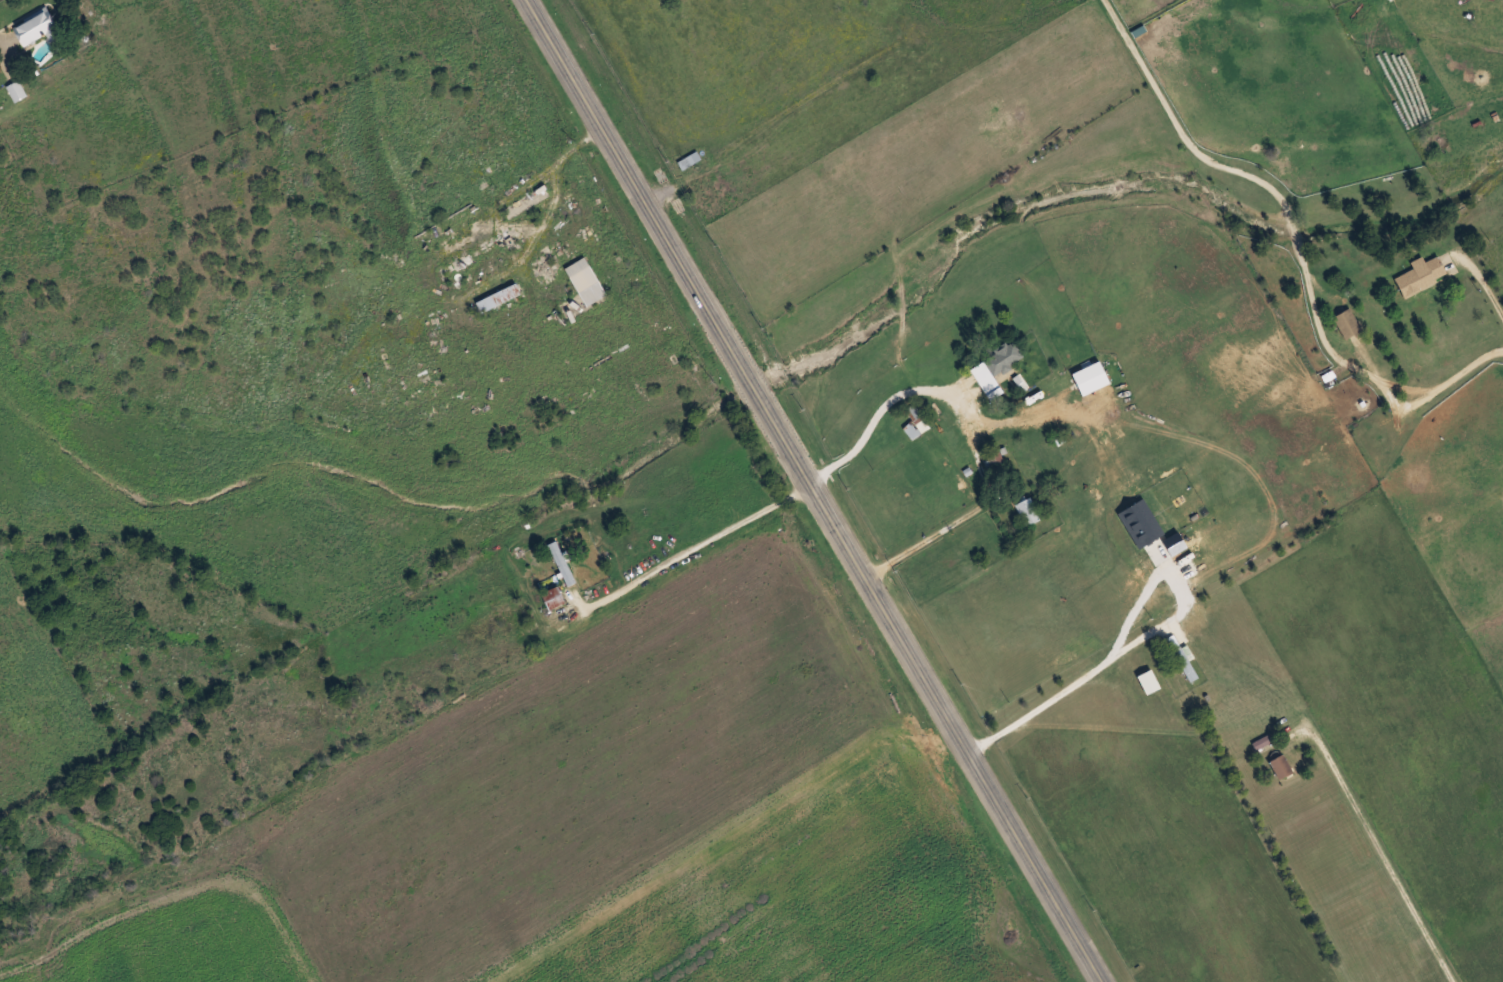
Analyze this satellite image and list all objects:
building: (37, 27)
building: (16, 90)
building: (689, 160)
building: (1420, 276)
building: (586, 282)
building: (498, 298)
building: (1347, 322)
building: (995, 367)
building: (1091, 378)
road: (818, 490)
building: (1028, 511)
building: (561, 563)
building: (553, 597)
building: (1280, 766)

